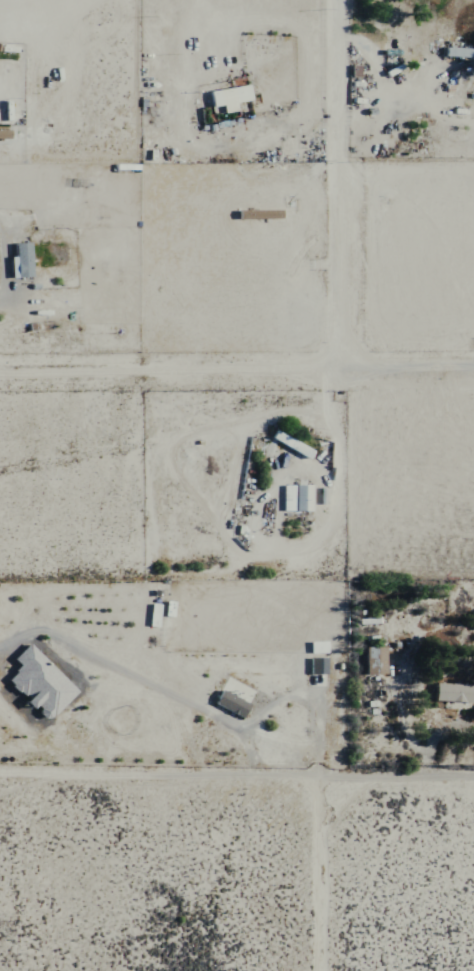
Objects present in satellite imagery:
road: (214, 30)
road: (378, 78)
road: (426, 108)
road: (336, 184)
road: (405, 211)
road: (236, 369)
road: (228, 542)
building: (315, 648)
building: (372, 661)
building: (315, 666)
building: (36, 684)
building: (228, 705)
road: (192, 706)
road: (167, 774)
road: (404, 777)

